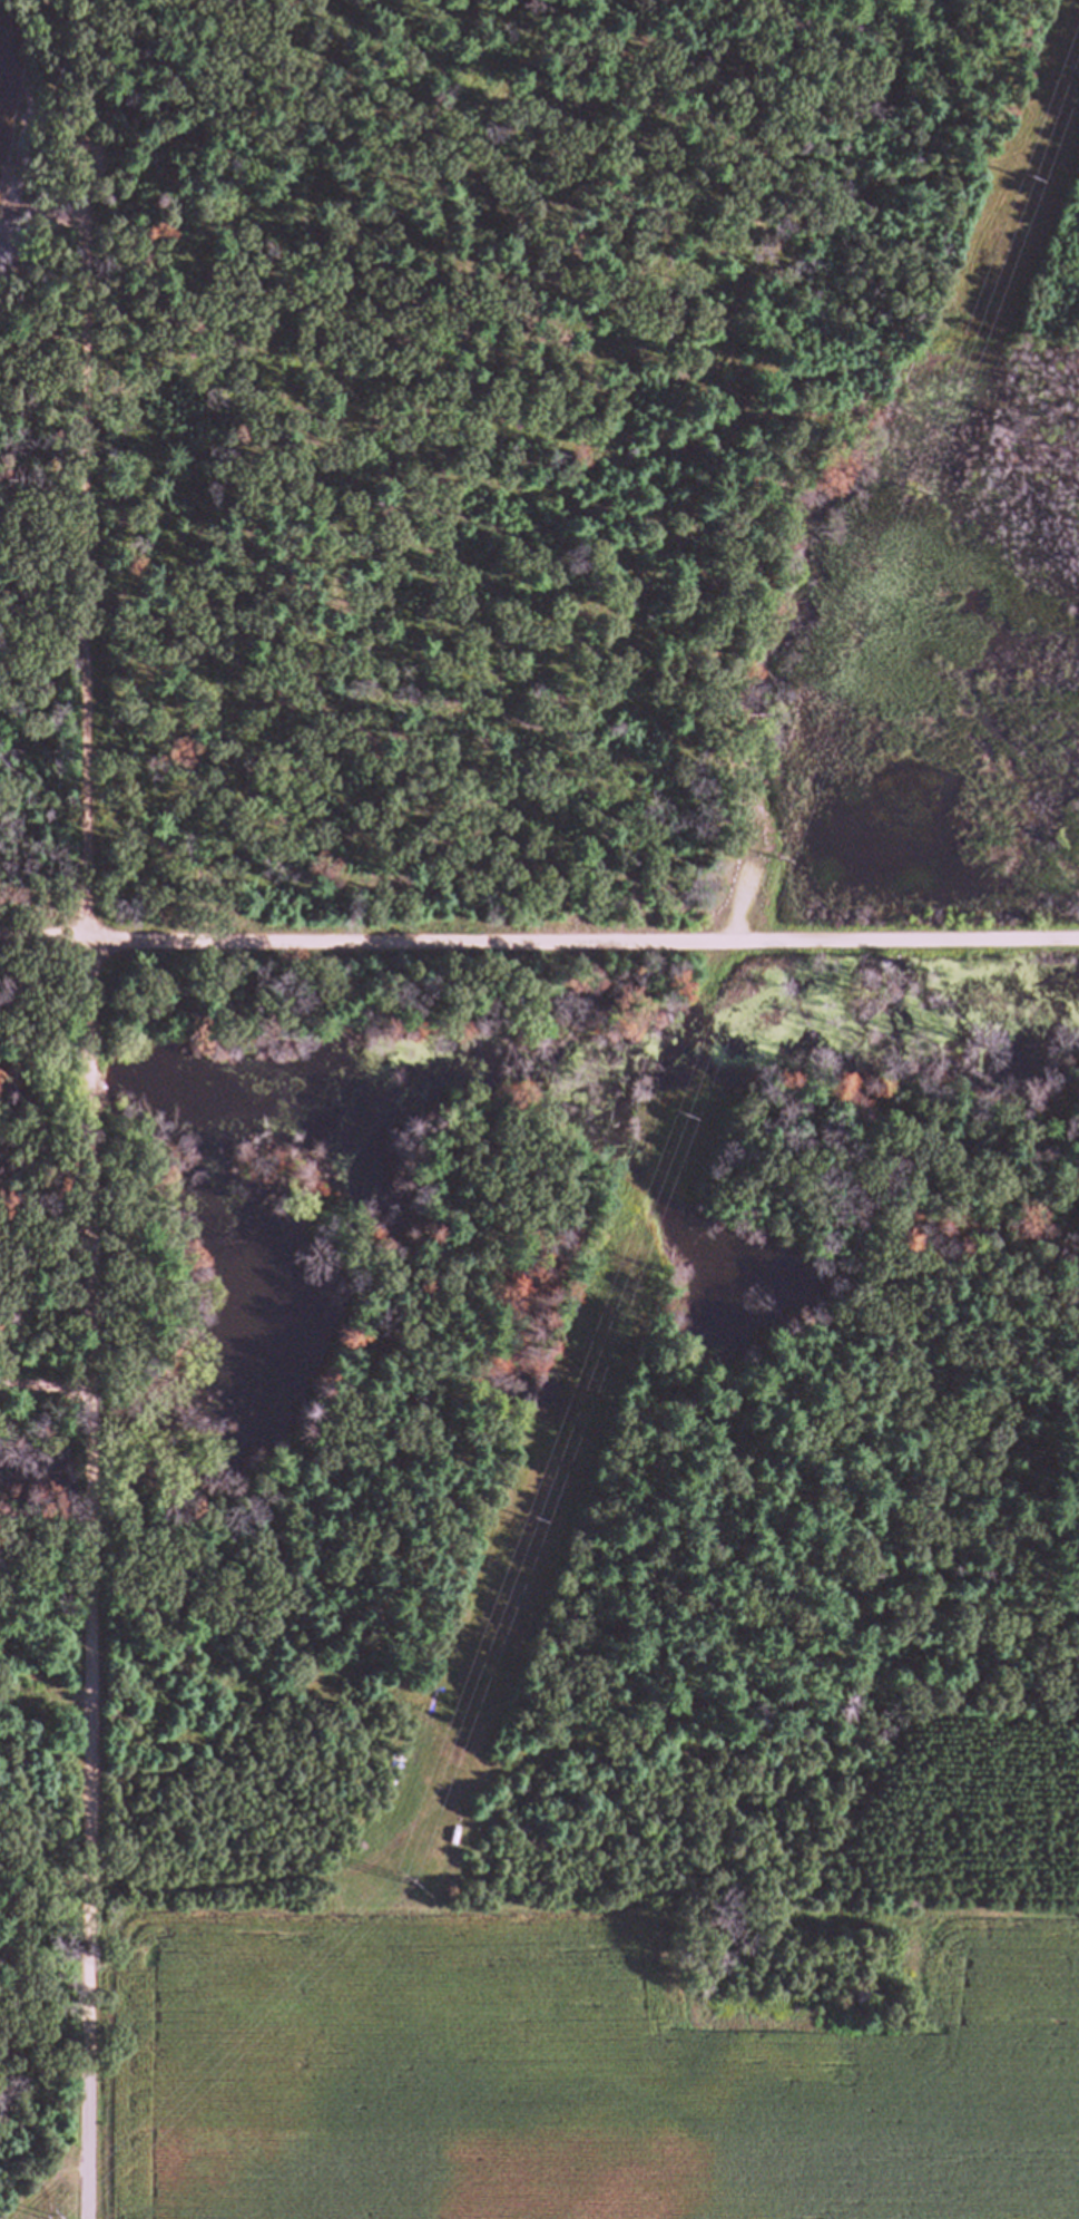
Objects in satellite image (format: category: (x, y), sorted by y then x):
power tower: (1027, 172)
road: (539, 935)
power tower: (679, 1111)
road: (94, 1180)
power tower: (541, 1524)
power tower: (388, 1866)
power tower: (47, 2212)

